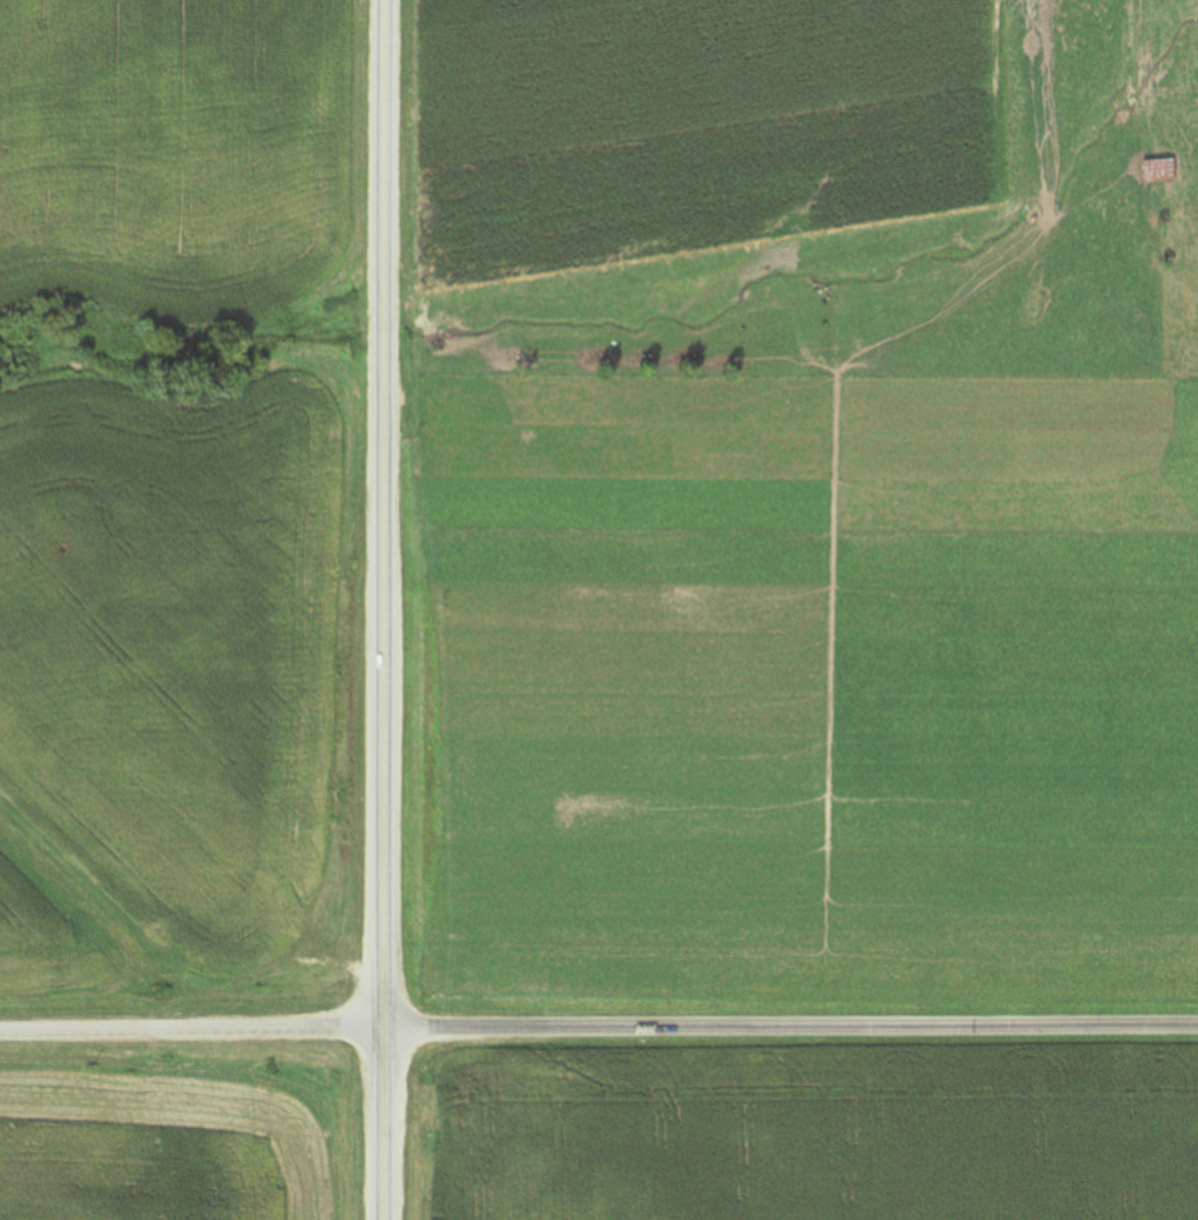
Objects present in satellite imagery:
building: (1159, 171)
road: (380, 609)
road: (598, 1025)

